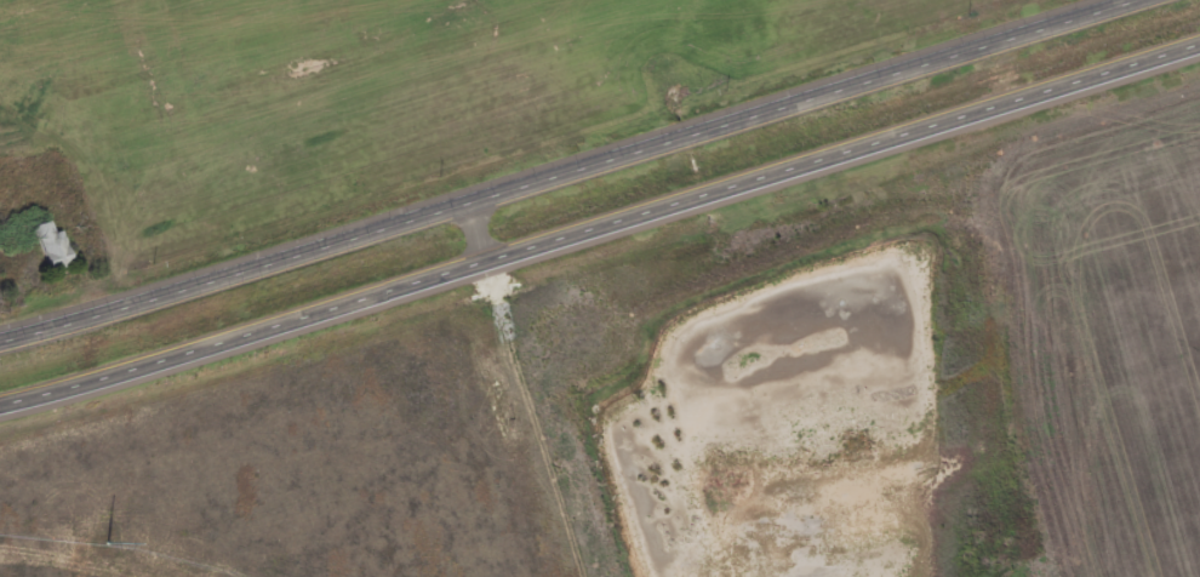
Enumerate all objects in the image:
road: (571, 172)
road: (600, 233)
building: (55, 247)
road: (519, 390)
power tower: (109, 545)

